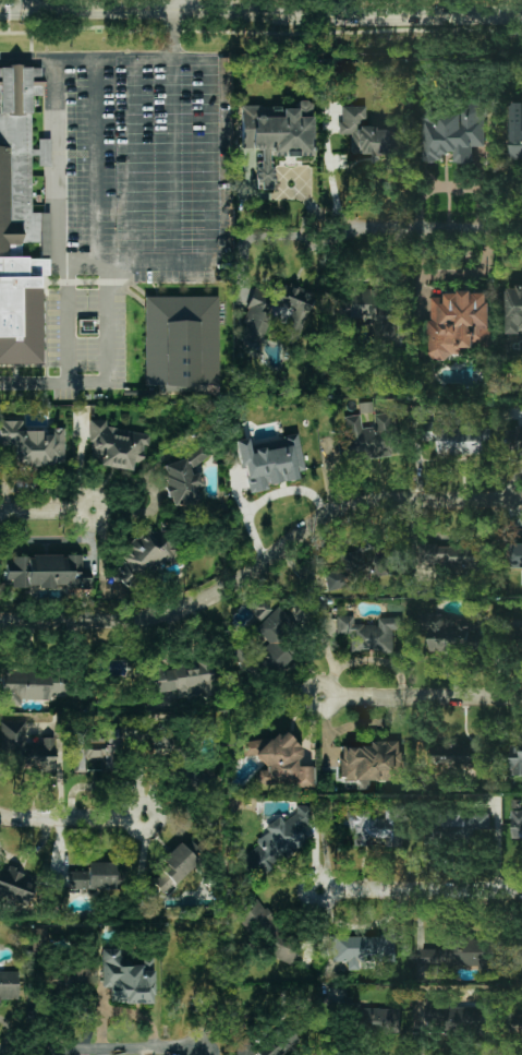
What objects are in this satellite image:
road: (25, 4)
road: (181, 5)
road: (260, 11)
road: (173, 35)
road: (27, 55)
building: (515, 130)
building: (452, 132)
building: (367, 133)
building: (277, 136)
building: (21, 182)
parking lot: (125, 196)
road: (423, 227)
road: (255, 237)
road: (68, 265)
road: (89, 265)
road: (451, 274)
building: (514, 309)
building: (372, 313)
building: (276, 315)
building: (459, 323)
building: (178, 329)
road: (36, 382)
building: (369, 437)
building: (459, 439)
building: (32, 444)
building: (116, 447)
building: (269, 463)
building: (185, 479)
road: (266, 500)
road: (45, 511)
building: (453, 554)
building: (517, 555)
building: (143, 558)
building: (359, 568)
road: (265, 570)
building: (49, 572)
building: (262, 611)
building: (449, 633)
building: (369, 634)
building: (518, 637)
building: (267, 647)
building: (181, 679)
building: (32, 685)
road: (420, 696)
building: (160, 743)
building: (28, 747)
building: (95, 751)
building: (458, 756)
building: (515, 759)
building: (372, 760)
building: (277, 763)
road: (60, 787)
road: (71, 818)
building: (374, 827)
building: (517, 827)
building: (277, 843)
building: (174, 868)
building: (94, 877)
building: (16, 885)
road: (420, 890)
building: (268, 931)
building: (38, 937)
building: (363, 949)
building: (515, 951)
building: (462, 952)
building: (82, 975)
building: (128, 976)
building: (9, 985)
building: (463, 1016)
building: (374, 1019)
building: (518, 1023)
building: (279, 1043)
building: (244, 1046)
road: (99, 1050)

